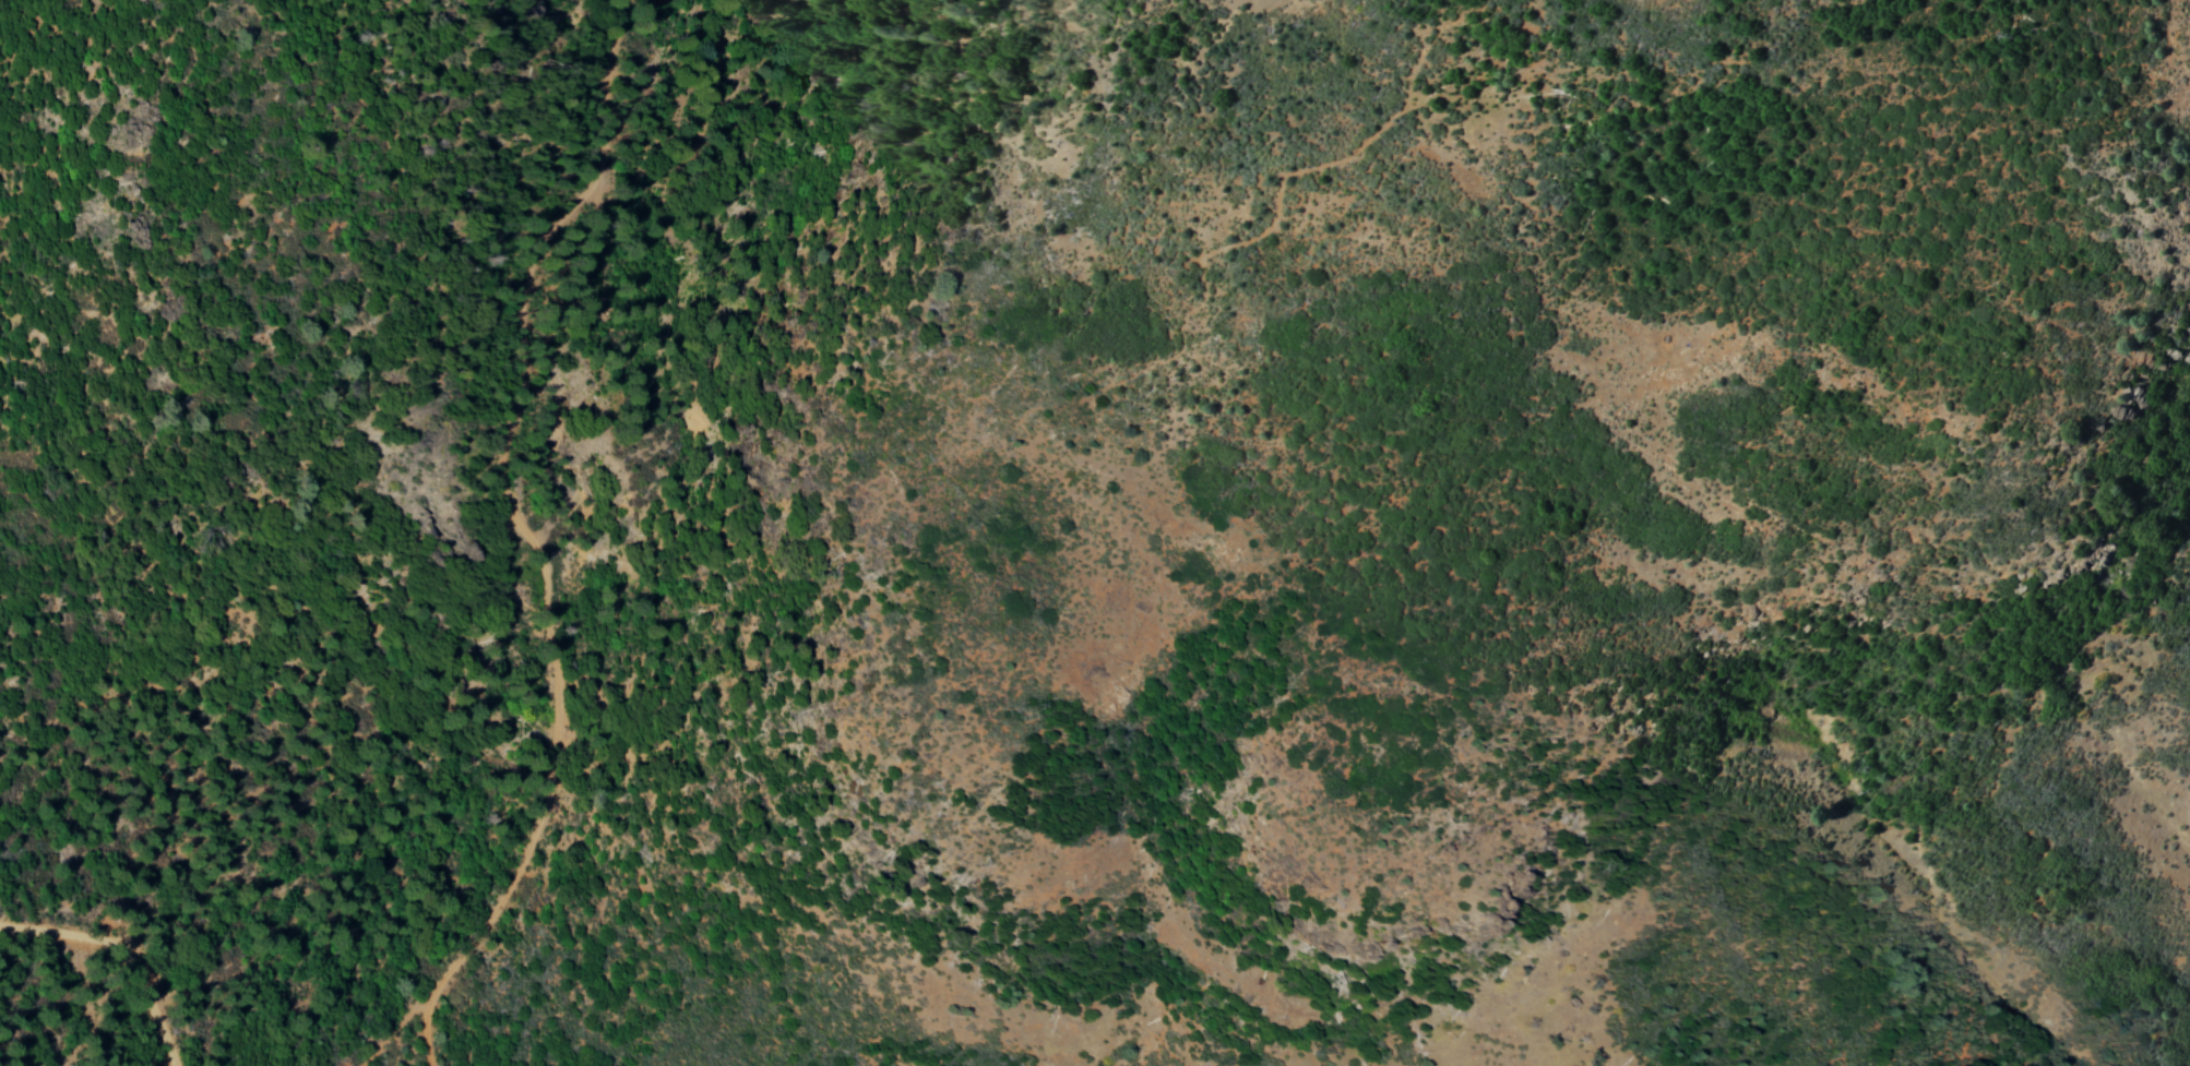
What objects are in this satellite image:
road: (44, 934)

